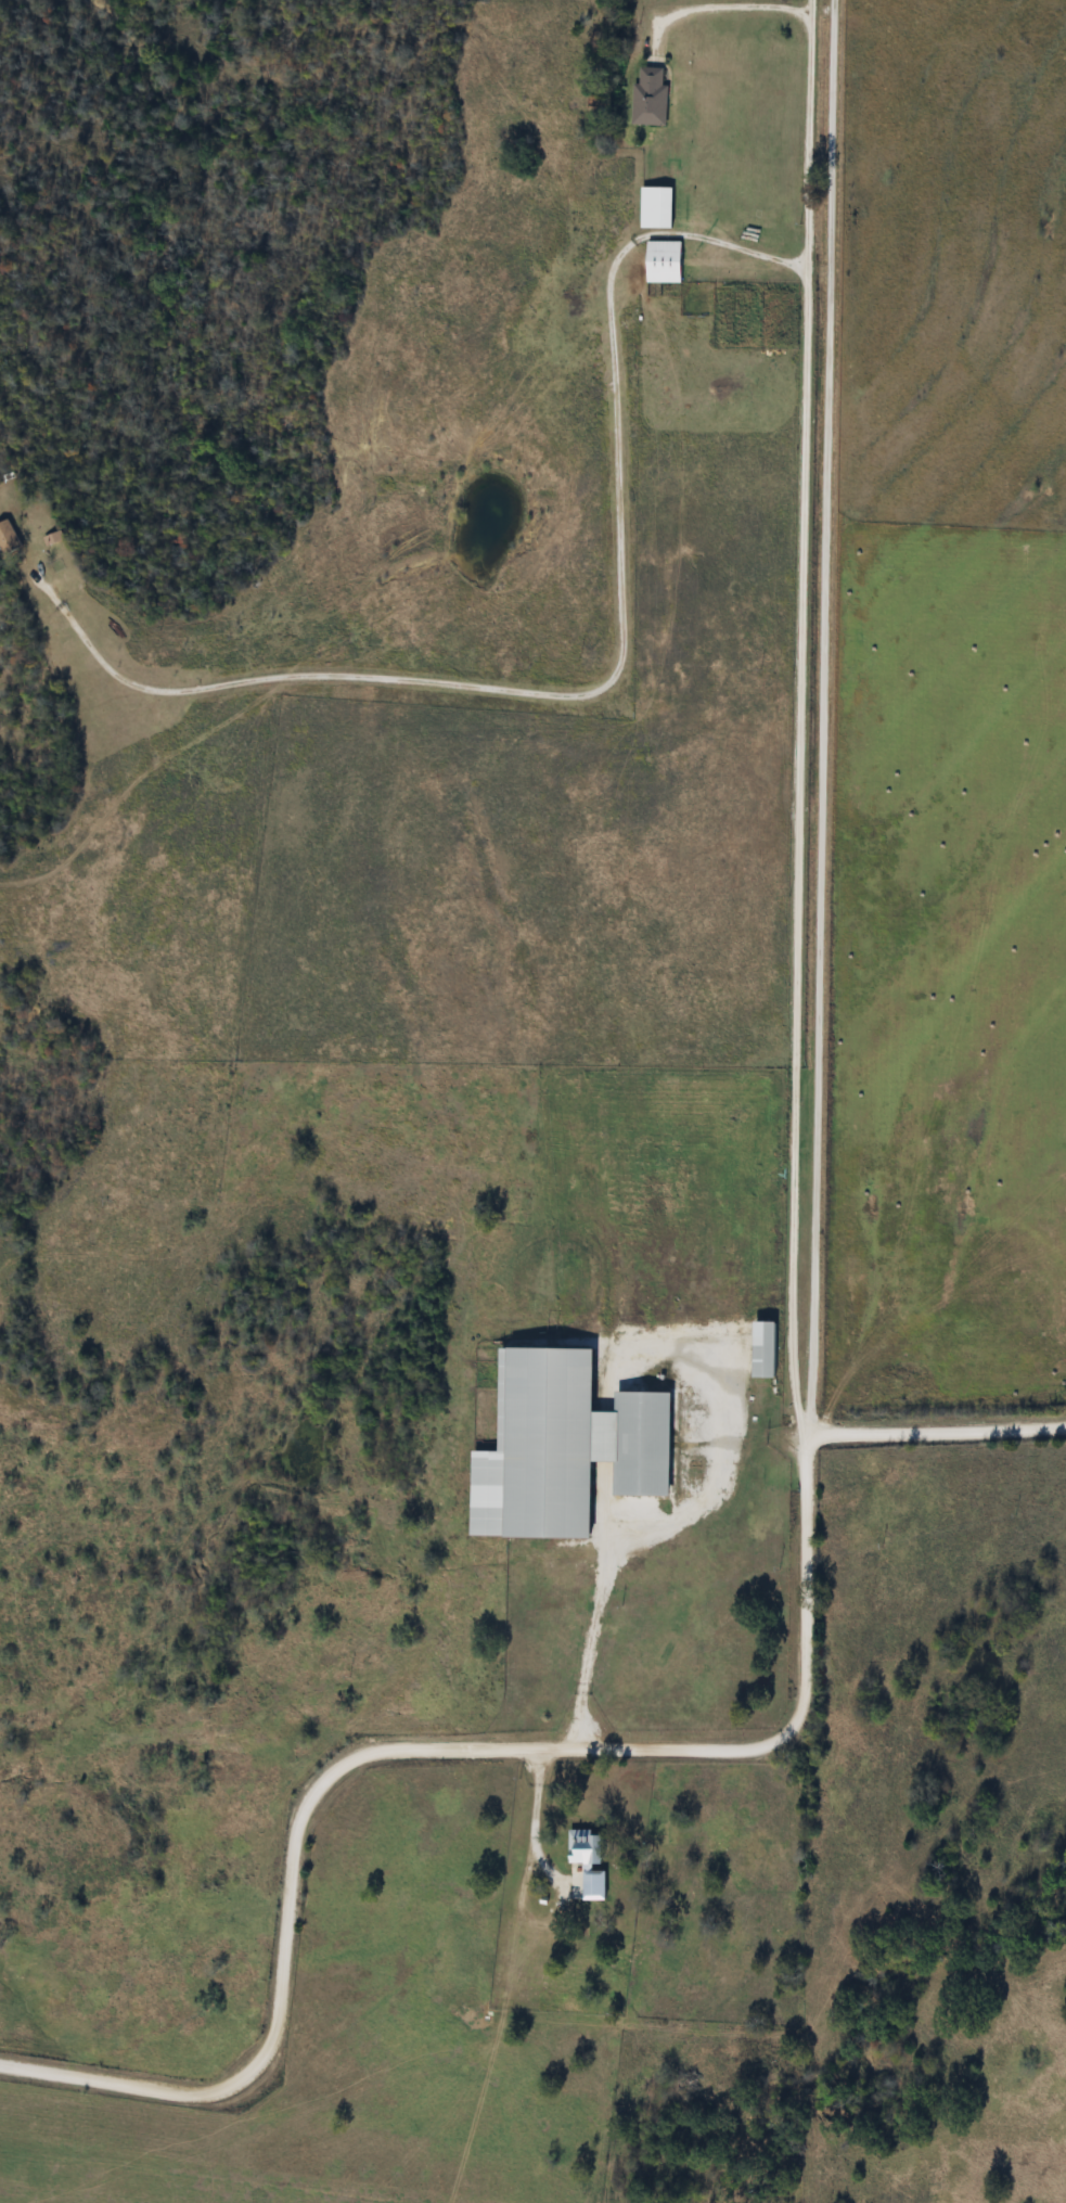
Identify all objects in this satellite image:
road: (727, 11)
building: (652, 98)
building: (658, 208)
building: (667, 262)
building: (11, 539)
road: (612, 663)
road: (814, 716)
road: (1005, 717)
road: (789, 718)
building: (769, 1348)
road: (934, 1434)
building: (569, 1447)
road: (595, 1635)
road: (420, 1743)
road: (529, 1819)
building: (590, 1847)

